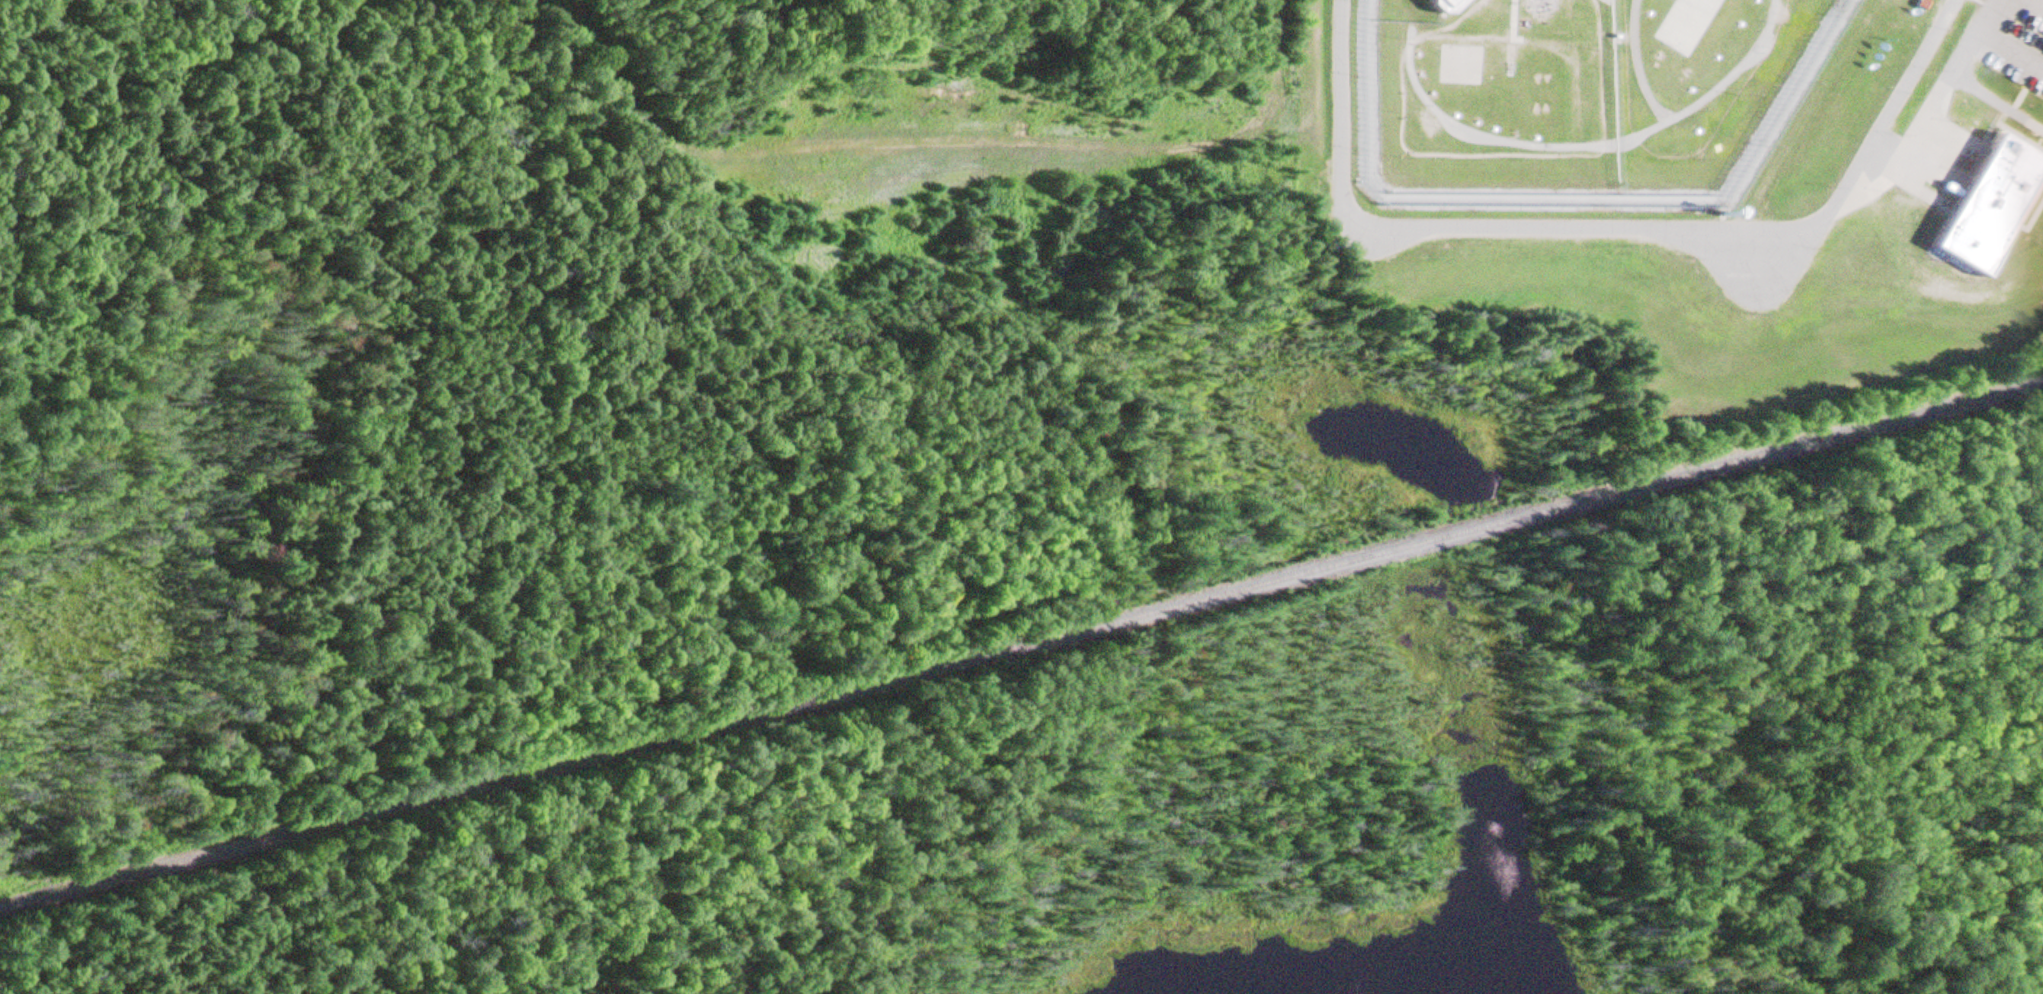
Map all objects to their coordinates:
building: (1921, 2)
building: (1445, 3)
road: (1972, 44)
parking lot: (2021, 49)
road: (915, 149)
building: (1997, 205)
road: (1604, 233)
railway: (1021, 648)

